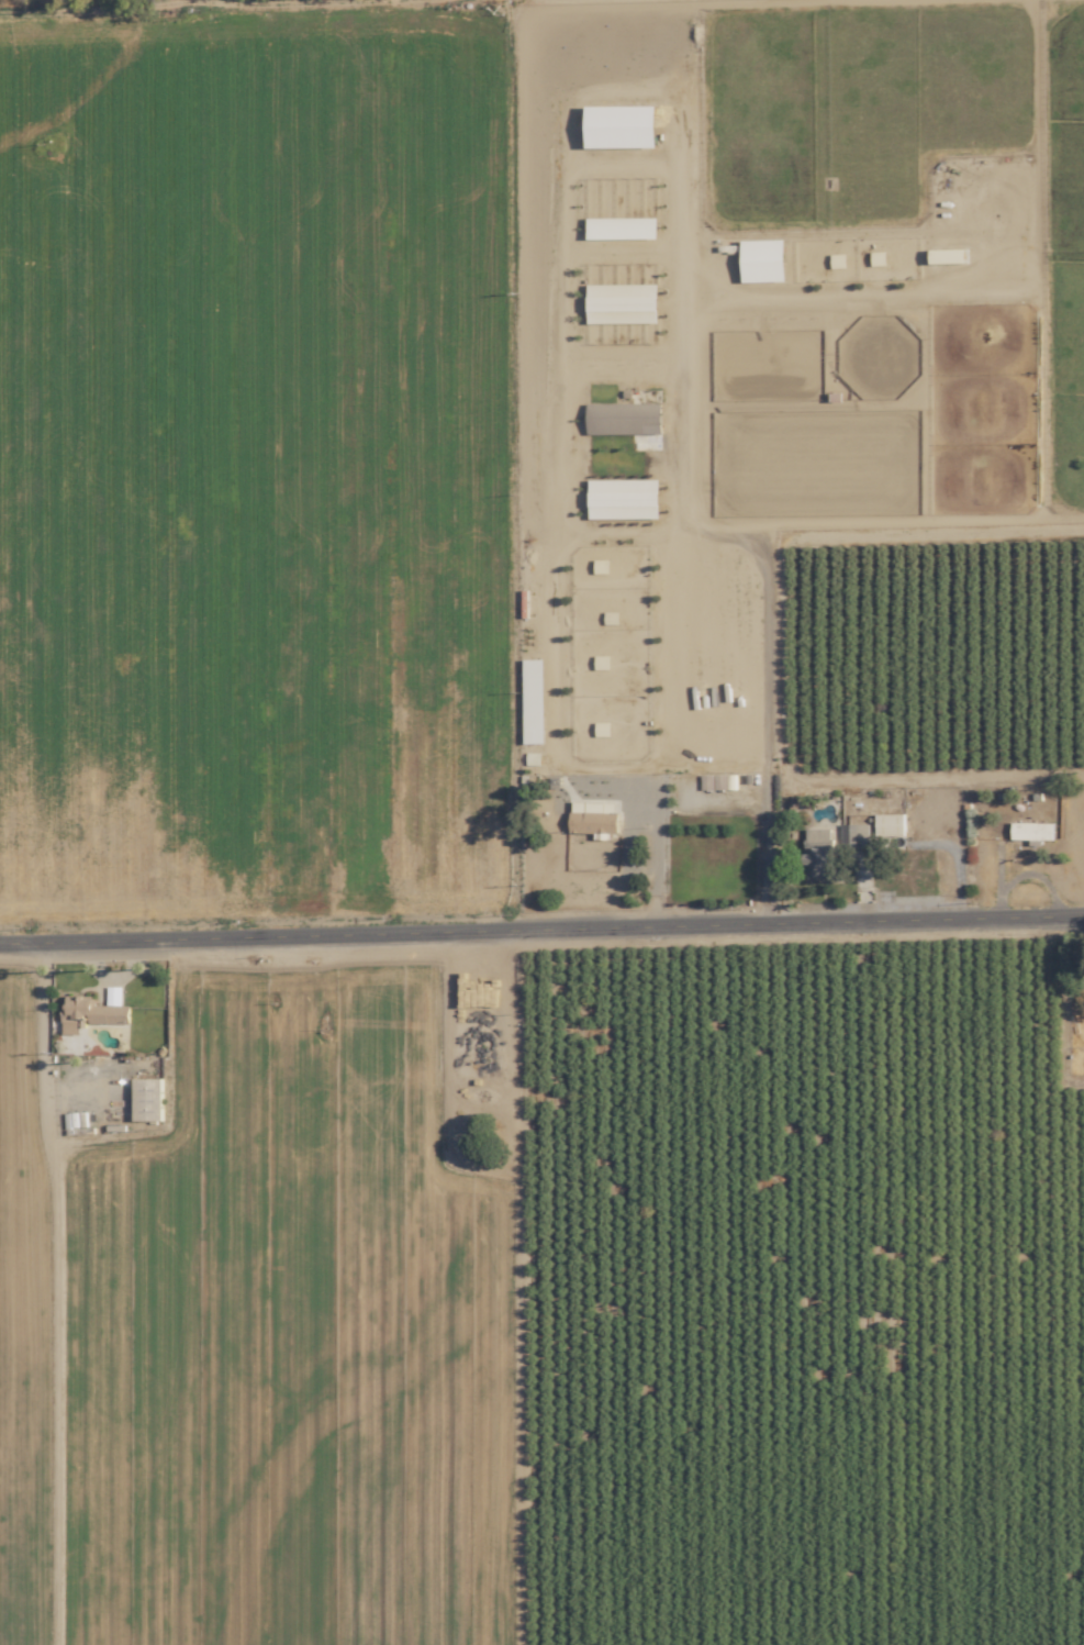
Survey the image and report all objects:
building: (627, 418)
road: (763, 738)
building: (893, 823)
building: (1036, 831)
road: (541, 930)
building: (92, 1014)
road: (41, 1045)

